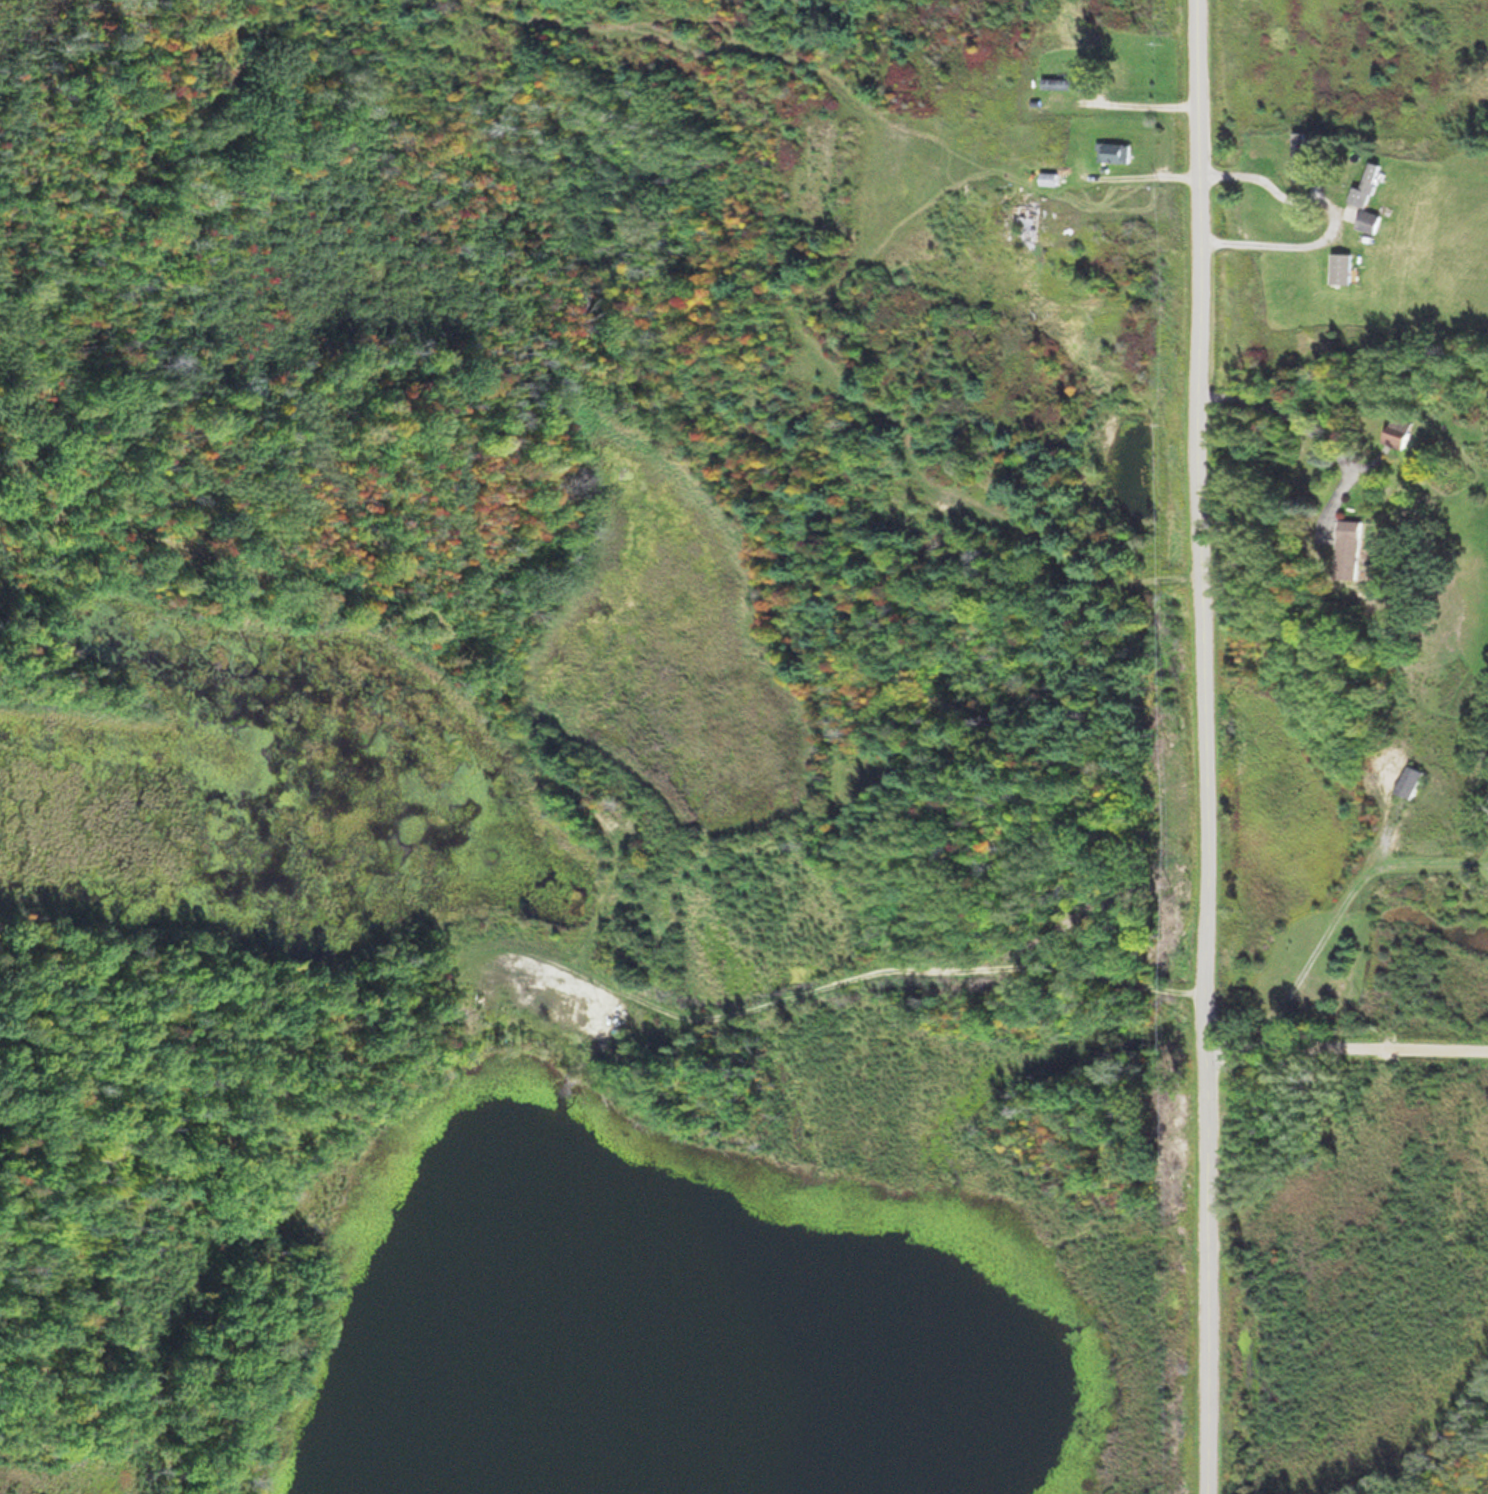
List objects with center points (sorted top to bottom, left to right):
building: (1066, 82)
building: (1300, 141)
building: (1118, 153)
building: (1052, 179)
building: (1369, 187)
building: (1027, 220)
building: (1371, 222)
building: (1343, 268)
building: (1397, 432)
building: (1356, 550)
road: (1211, 746)
building: (1409, 783)
road: (1350, 1040)

